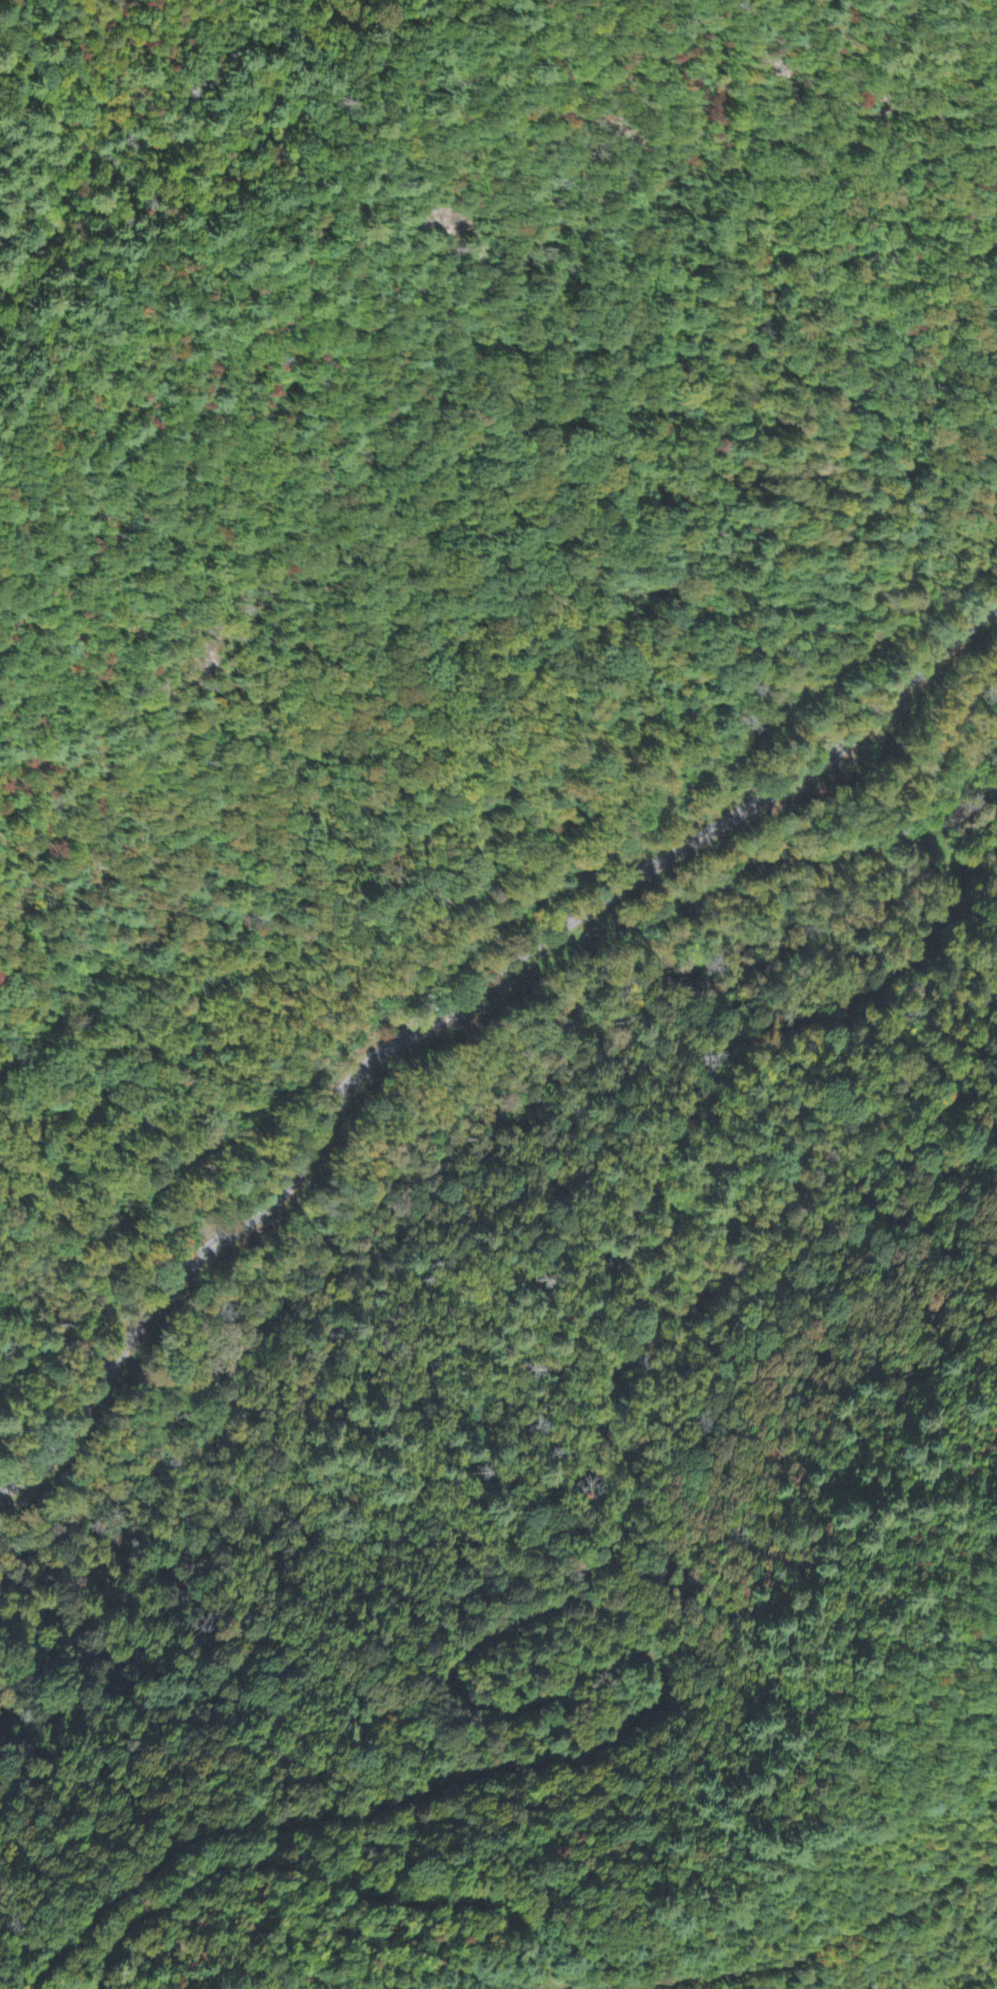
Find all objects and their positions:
road: (452, 1002)

